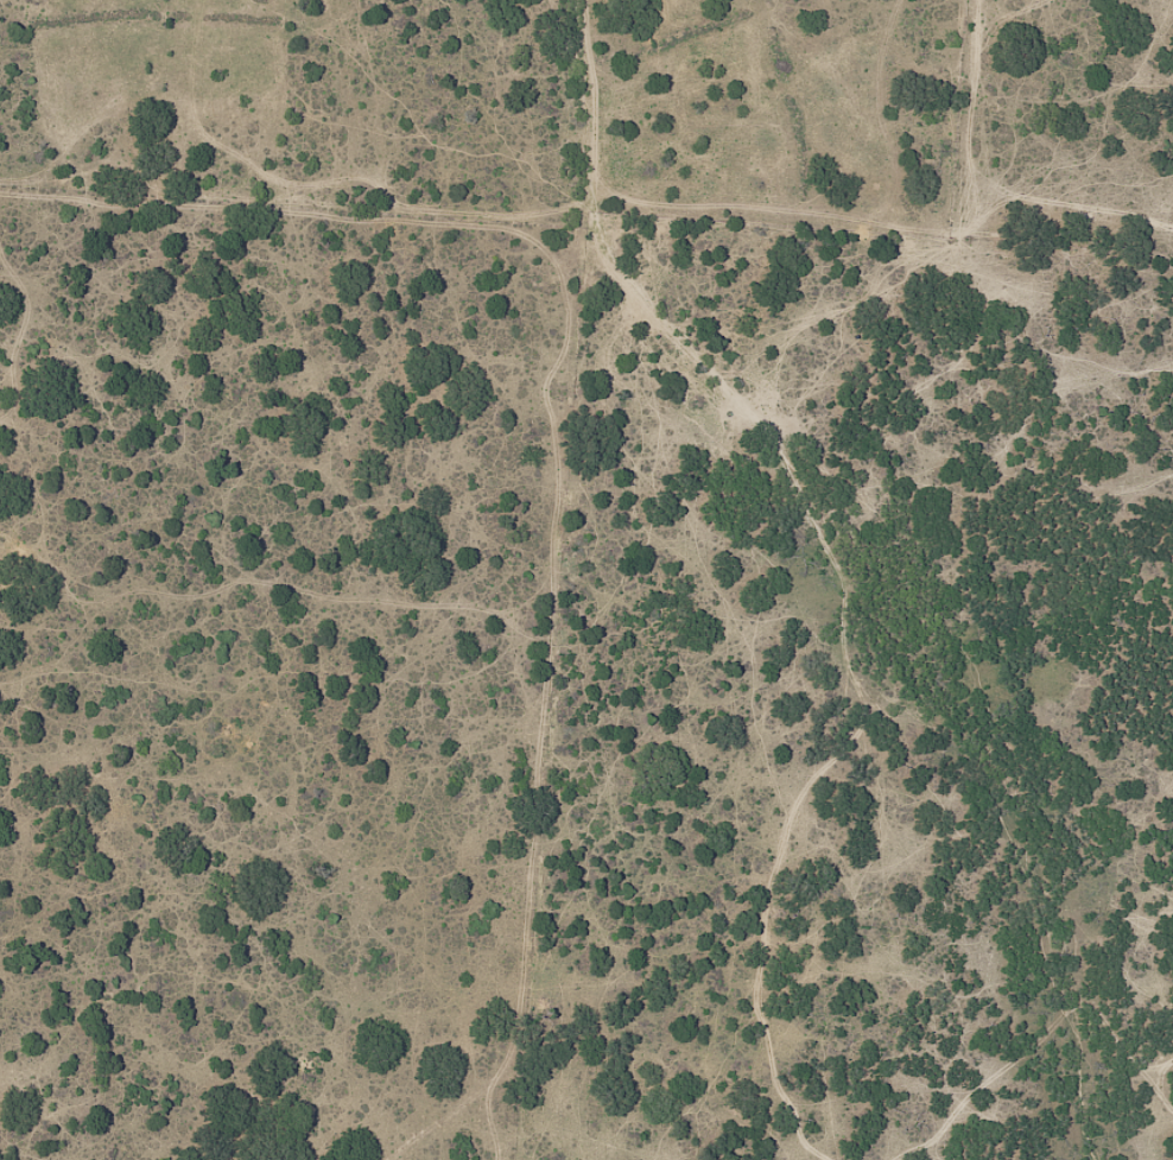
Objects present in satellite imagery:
road: (590, 107)
road: (285, 191)
road: (566, 709)

